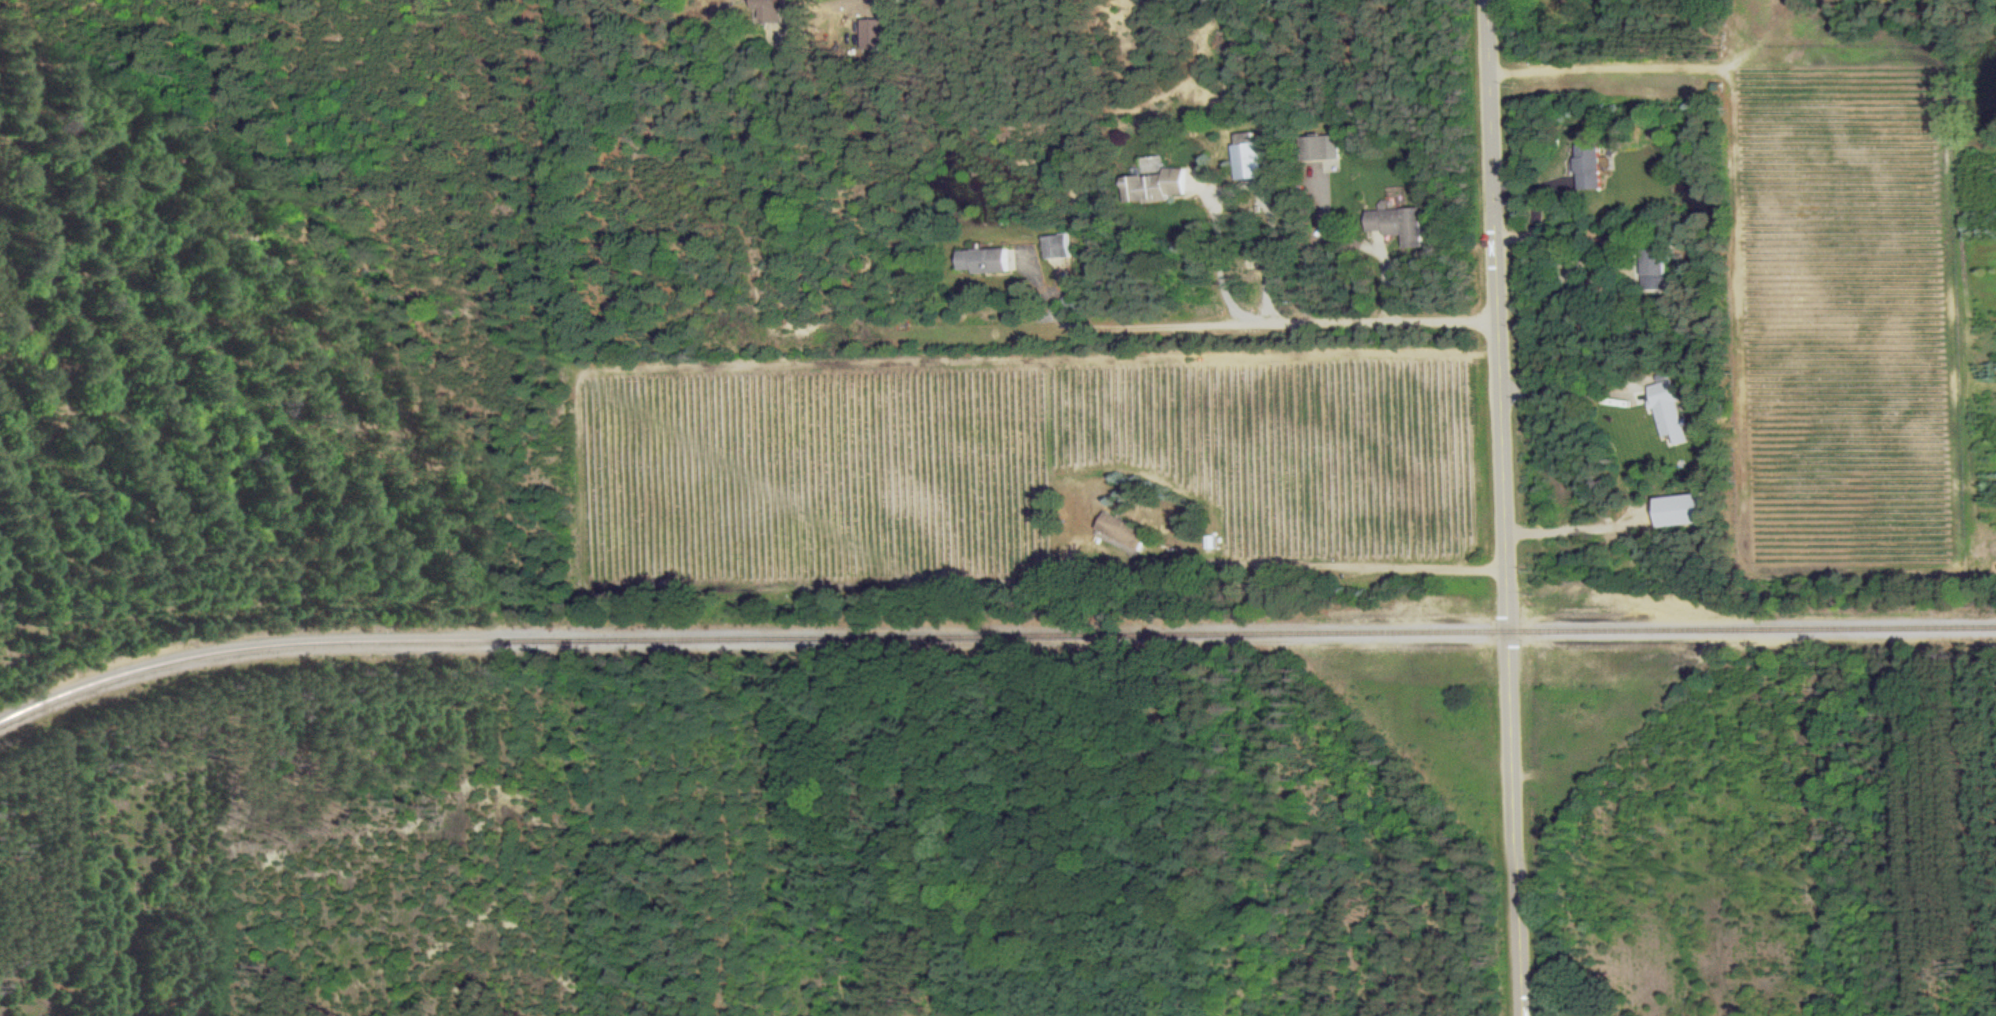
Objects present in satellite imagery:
building: (1570, 5)
road: (792, 6)
building: (769, 10)
building: (872, 34)
road: (1646, 67)
building: (1319, 148)
building: (1247, 158)
building: (1153, 165)
building: (1585, 167)
building: (1155, 186)
road: (1235, 186)
building: (1396, 224)
building: (1056, 246)
building: (983, 261)
building: (1650, 269)
road: (1098, 328)
road: (1570, 392)
building: (1665, 412)
road: (1502, 507)
building: (1122, 531)
road: (1356, 572)
railway: (991, 635)

